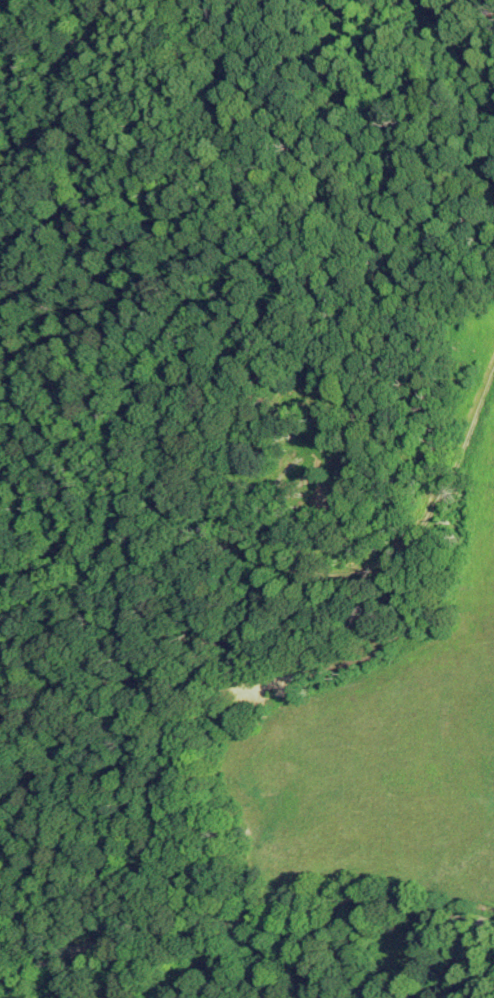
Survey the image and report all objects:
road: (245, 917)

